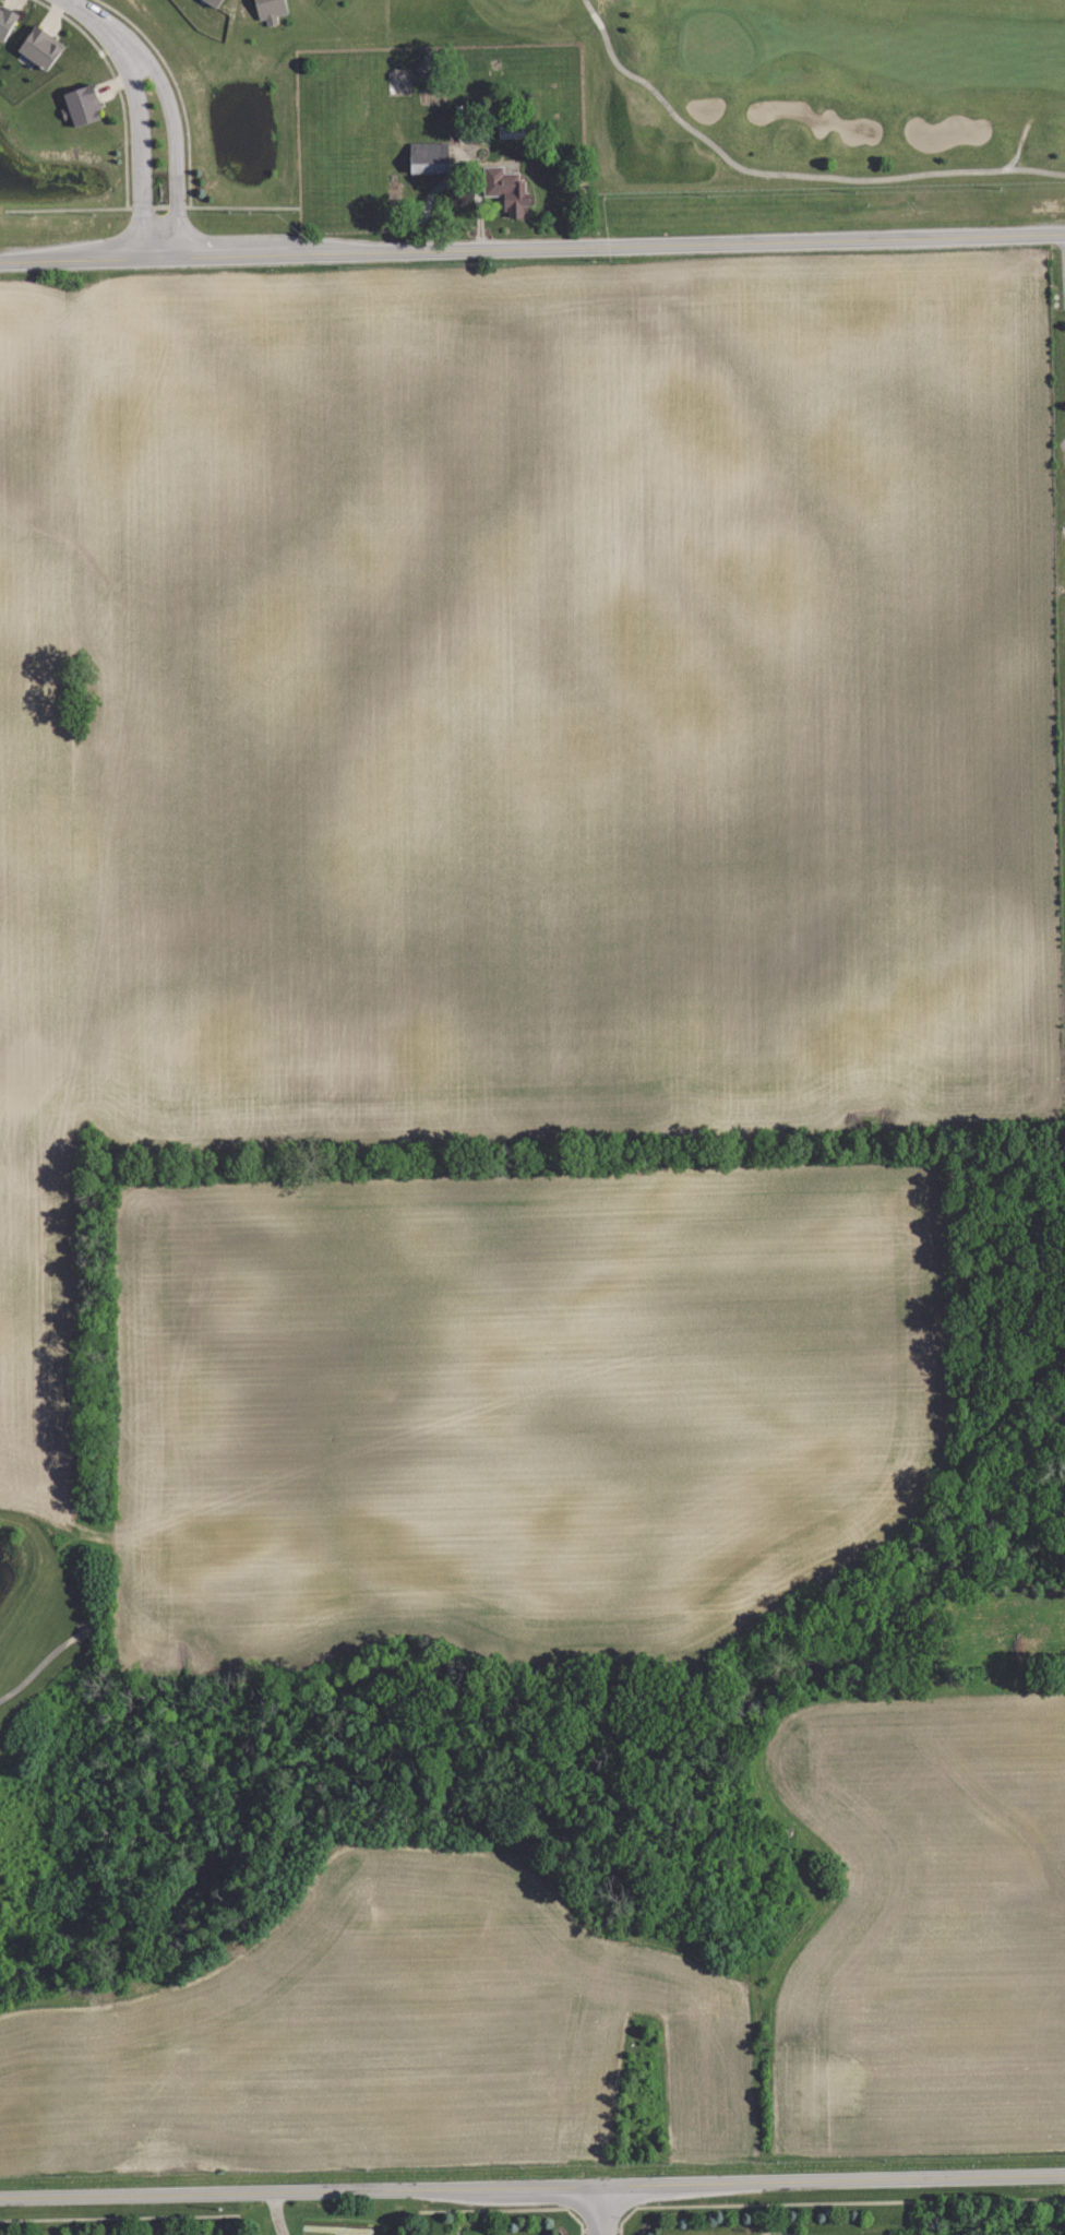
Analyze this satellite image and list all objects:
building: (207, 2)
building: (217, 2)
road: (76, 7)
building: (271, 10)
building: (7, 21)
building: (41, 47)
building: (81, 105)
road: (172, 116)
road: (141, 127)
building: (430, 158)
road: (785, 173)
building: (507, 189)
road: (531, 246)
parking lot: (1064, 443)
road: (40, 1664)
road: (532, 2187)
road: (601, 2210)

